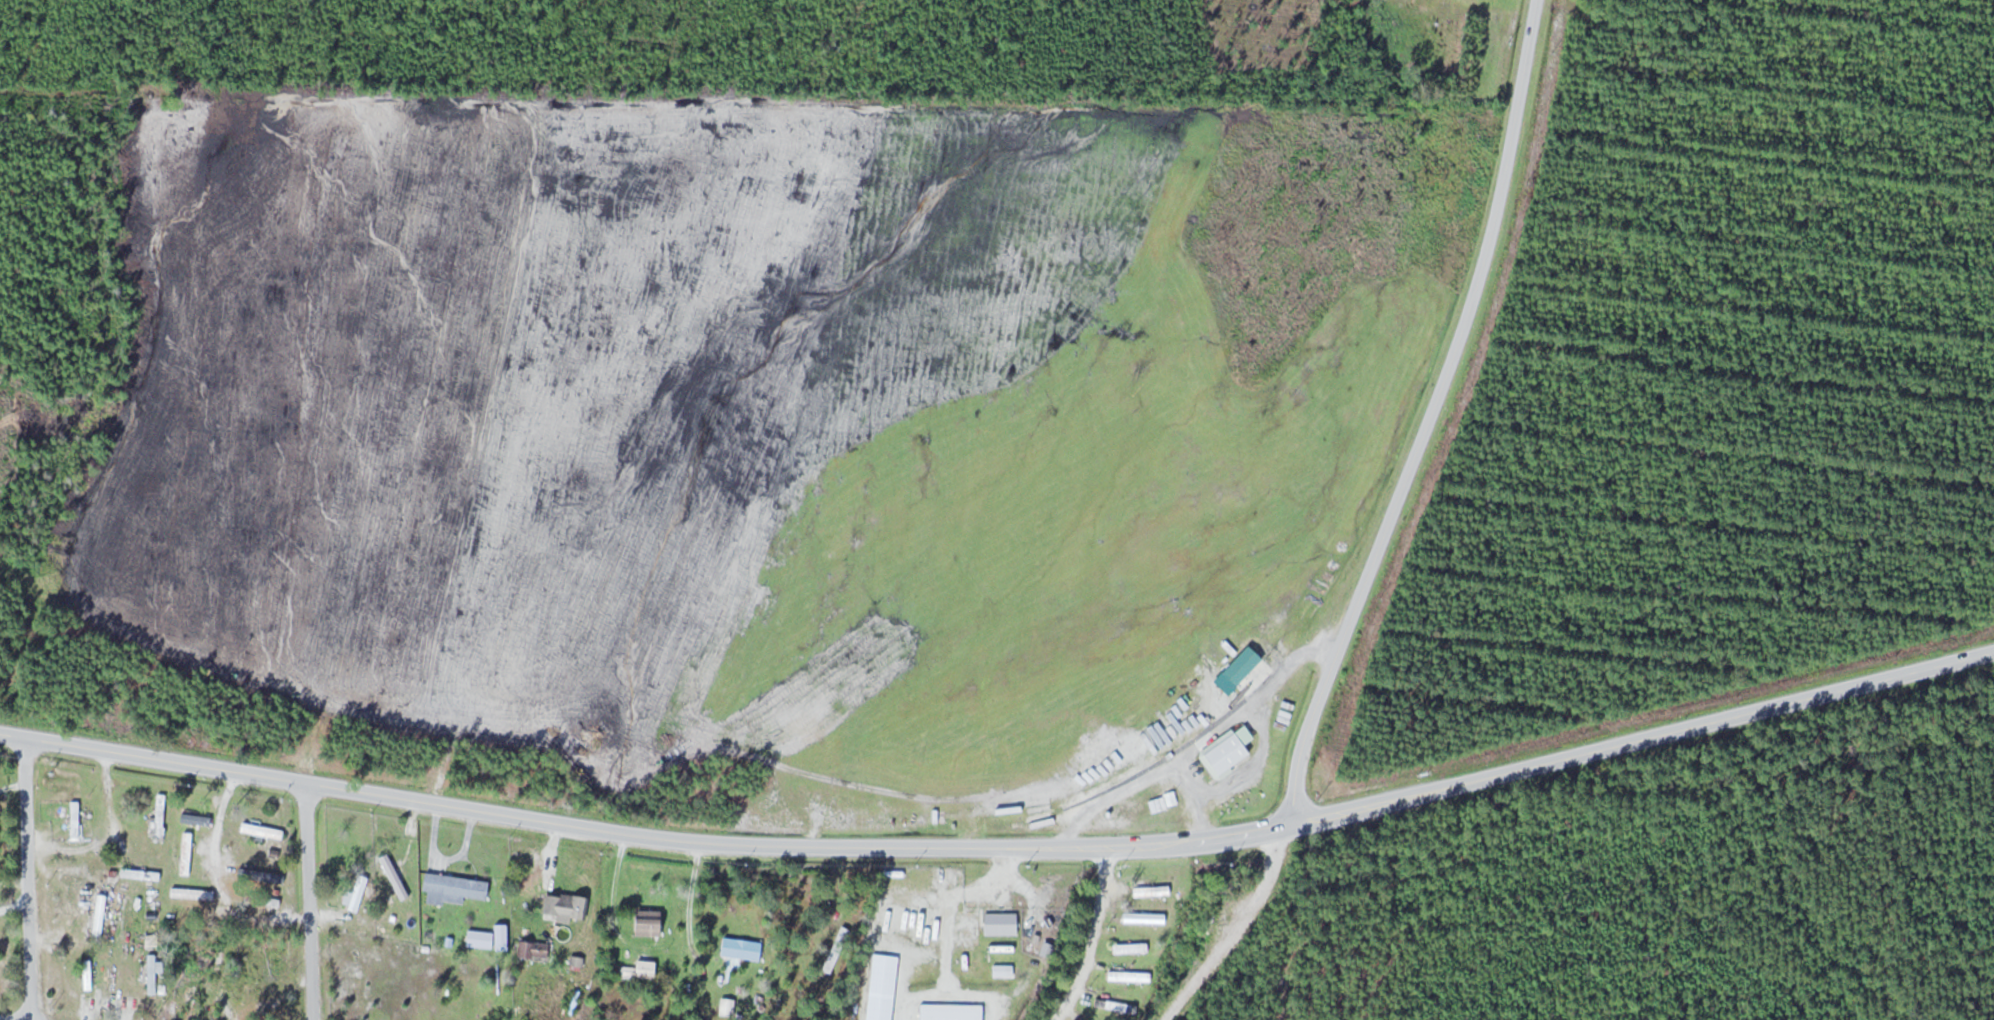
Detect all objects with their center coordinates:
road: (1420, 418)
road: (1639, 742)
building: (1221, 753)
building: (1159, 811)
building: (160, 814)
building: (76, 817)
building: (198, 818)
building: (263, 829)
road: (639, 835)
building: (261, 851)
building: (186, 852)
building: (141, 873)
building: (245, 874)
building: (273, 876)
road: (26, 878)
building: (458, 885)
building: (1150, 890)
building: (193, 893)
building: (271, 899)
road: (308, 902)
building: (573, 906)
building: (98, 915)
building: (1141, 918)
building: (652, 922)
building: (997, 923)
building: (932, 924)
building: (842, 936)
building: (489, 937)
road: (1092, 937)
building: (743, 947)
building: (1125, 948)
building: (536, 949)
building: (642, 969)
building: (88, 971)
building: (1125, 976)
building: (265, 988)
building: (728, 1006)
building: (1117, 1006)
road: (7, 1019)

